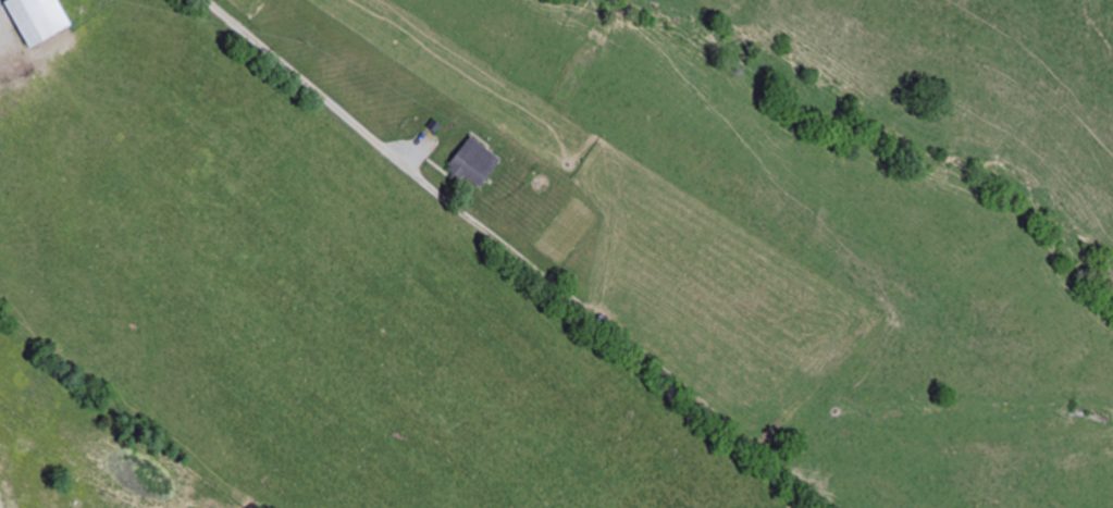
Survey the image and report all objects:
road: (220, 11)
building: (38, 21)
building: (478, 163)

